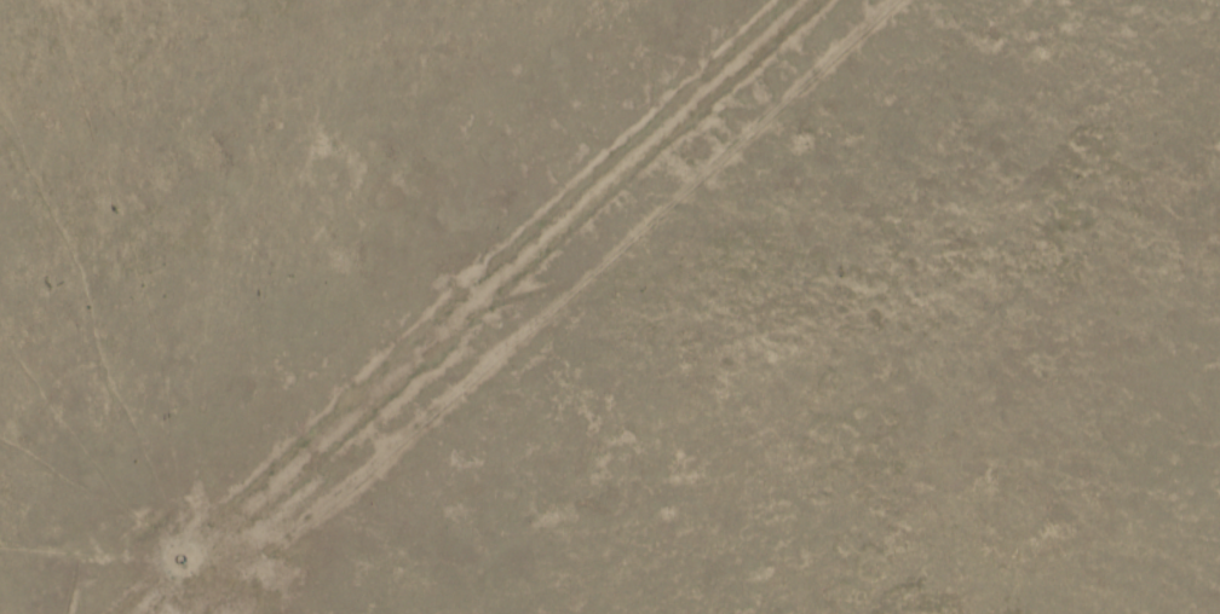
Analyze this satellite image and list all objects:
road: (426, 307)

